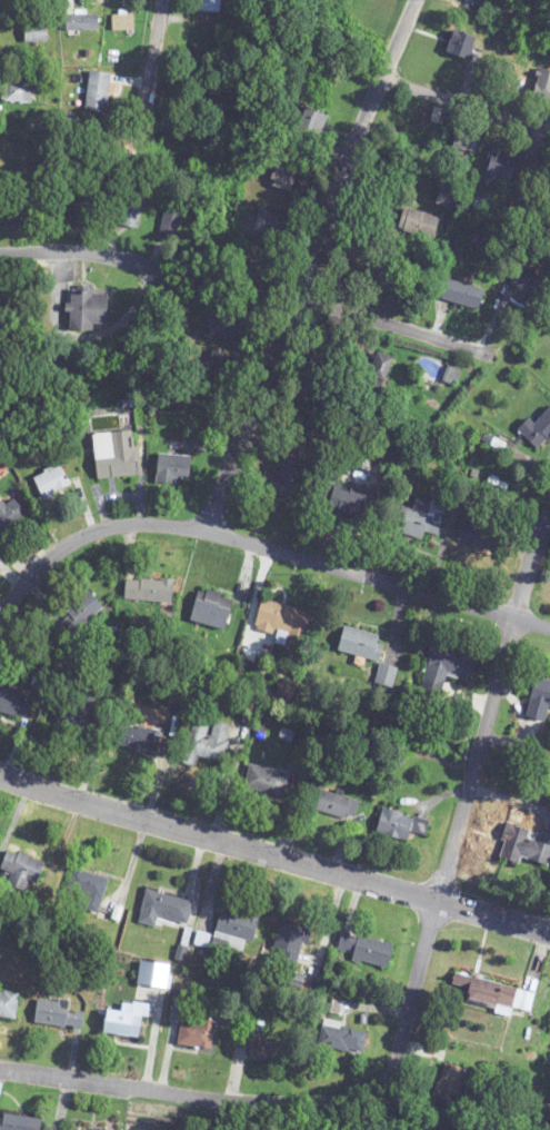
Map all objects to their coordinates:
building: (209, 7)
building: (123, 22)
building: (81, 23)
building: (34, 33)
building: (461, 46)
road: (152, 57)
building: (542, 87)
building: (16, 93)
building: (98, 93)
road: (459, 98)
building: (311, 125)
building: (466, 141)
building: (503, 165)
building: (283, 174)
building: (239, 212)
building: (132, 214)
building: (170, 222)
building: (417, 224)
building: (274, 227)
road: (70, 251)
road: (307, 262)
building: (380, 275)
building: (531, 288)
building: (463, 296)
building: (89, 308)
road: (391, 325)
building: (233, 326)
building: (218, 366)
building: (377, 375)
building: (537, 432)
building: (116, 455)
building: (173, 468)
building: (284, 479)
building: (51, 482)
building: (349, 500)
building: (10, 516)
building: (417, 523)
building: (474, 529)
road: (261, 545)
building: (149, 591)
building: (213, 603)
building: (284, 624)
building: (361, 643)
building: (443, 671)
building: (538, 701)
building: (12, 703)
road: (490, 711)
building: (77, 714)
building: (137, 740)
building: (211, 744)
building: (266, 782)
building: (337, 805)
building: (401, 824)
building: (522, 847)
road: (273, 856)
building: (21, 872)
building: (87, 890)
building: (163, 909)
building: (234, 932)
building: (290, 939)
building: (366, 950)
building: (490, 995)
building: (9, 1005)
building: (57, 1014)
building: (126, 1023)
building: (197, 1034)
building: (343, 1039)
building: (269, 1050)
building: (451, 1083)
road: (290, 1102)
building: (20, 1123)
building: (98, 1129)

